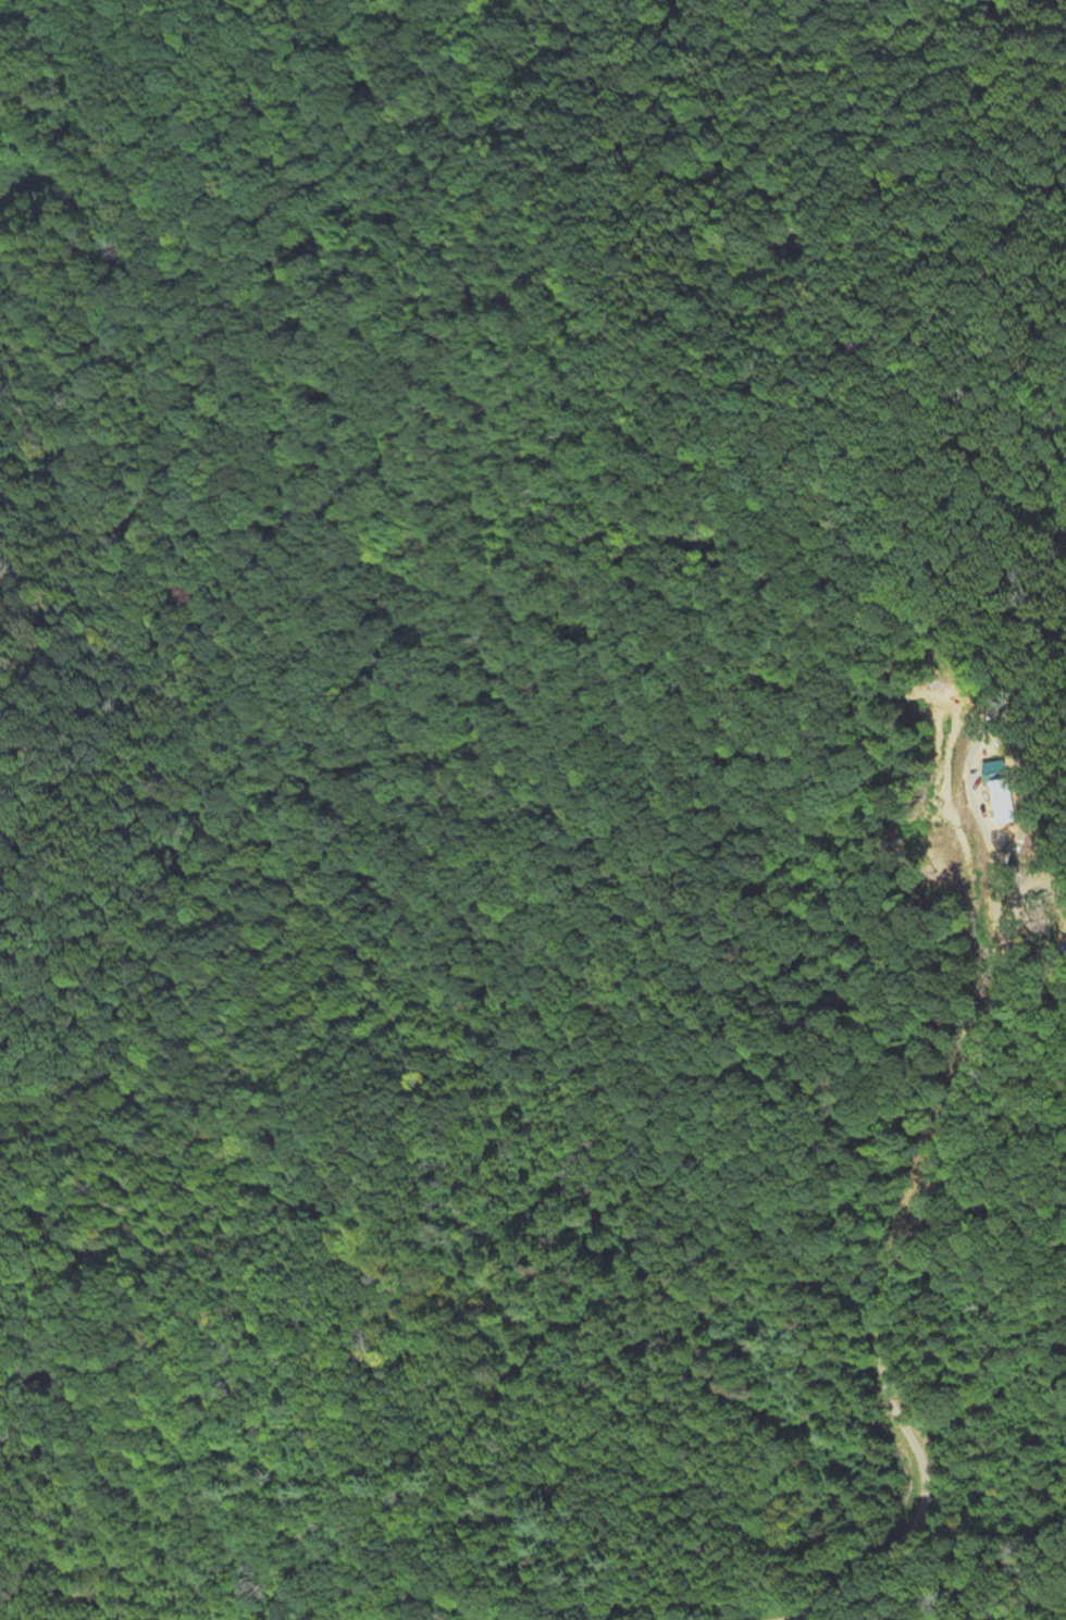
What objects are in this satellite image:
building: (995, 794)

